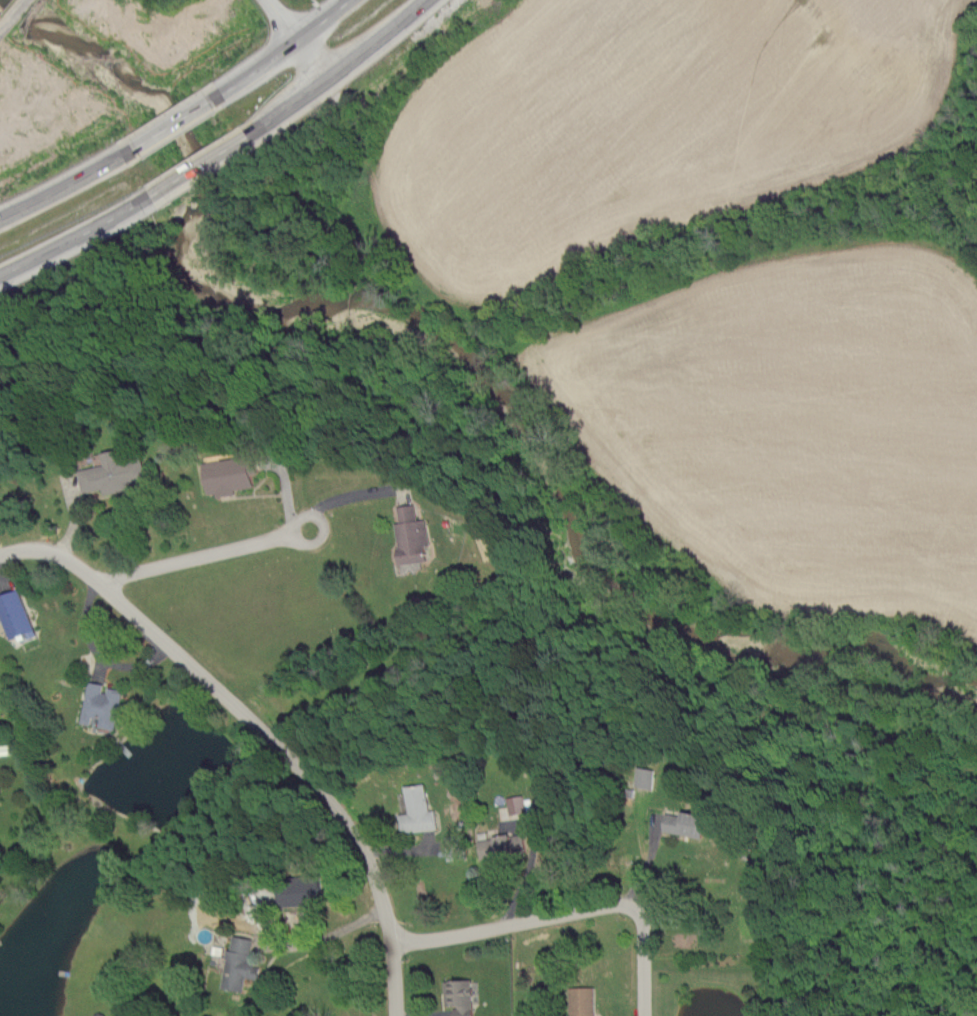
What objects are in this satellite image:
road: (280, 50)
road: (338, 70)
road: (172, 123)
road: (198, 165)
road: (67, 184)
road: (76, 237)
building: (112, 473)
building: (230, 474)
building: (411, 535)
road: (202, 555)
building: (14, 614)
building: (100, 704)
road: (261, 730)
building: (646, 777)
building: (417, 810)
building: (686, 823)
building: (501, 846)
road: (647, 864)
building: (295, 894)
road: (565, 911)
road: (318, 934)
building: (237, 962)
building: (459, 996)
building: (582, 1001)

